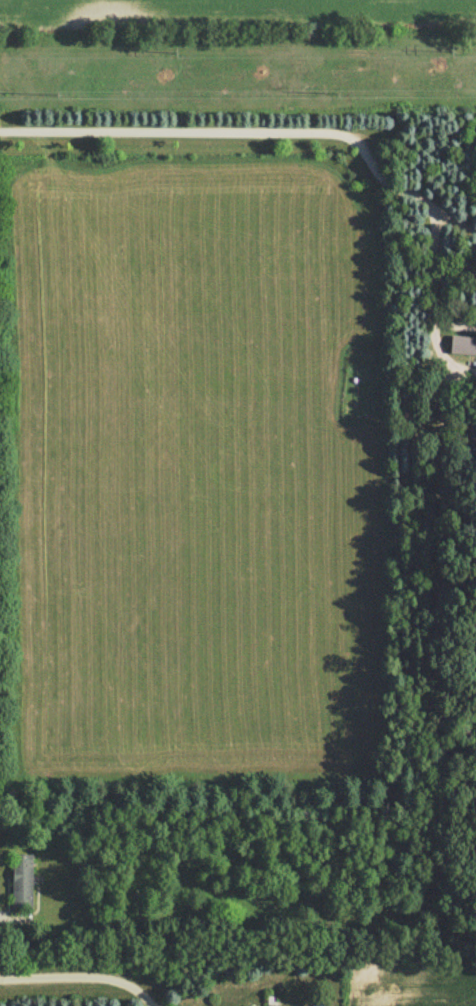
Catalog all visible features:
power tower: (175, 55)
power tower: (450, 55)
power tower: (337, 96)
power tower: (56, 97)
road: (255, 129)
road: (444, 280)
building: (463, 344)
road: (463, 364)
building: (21, 880)
road: (78, 974)
building: (273, 1004)
building: (249, 1005)

